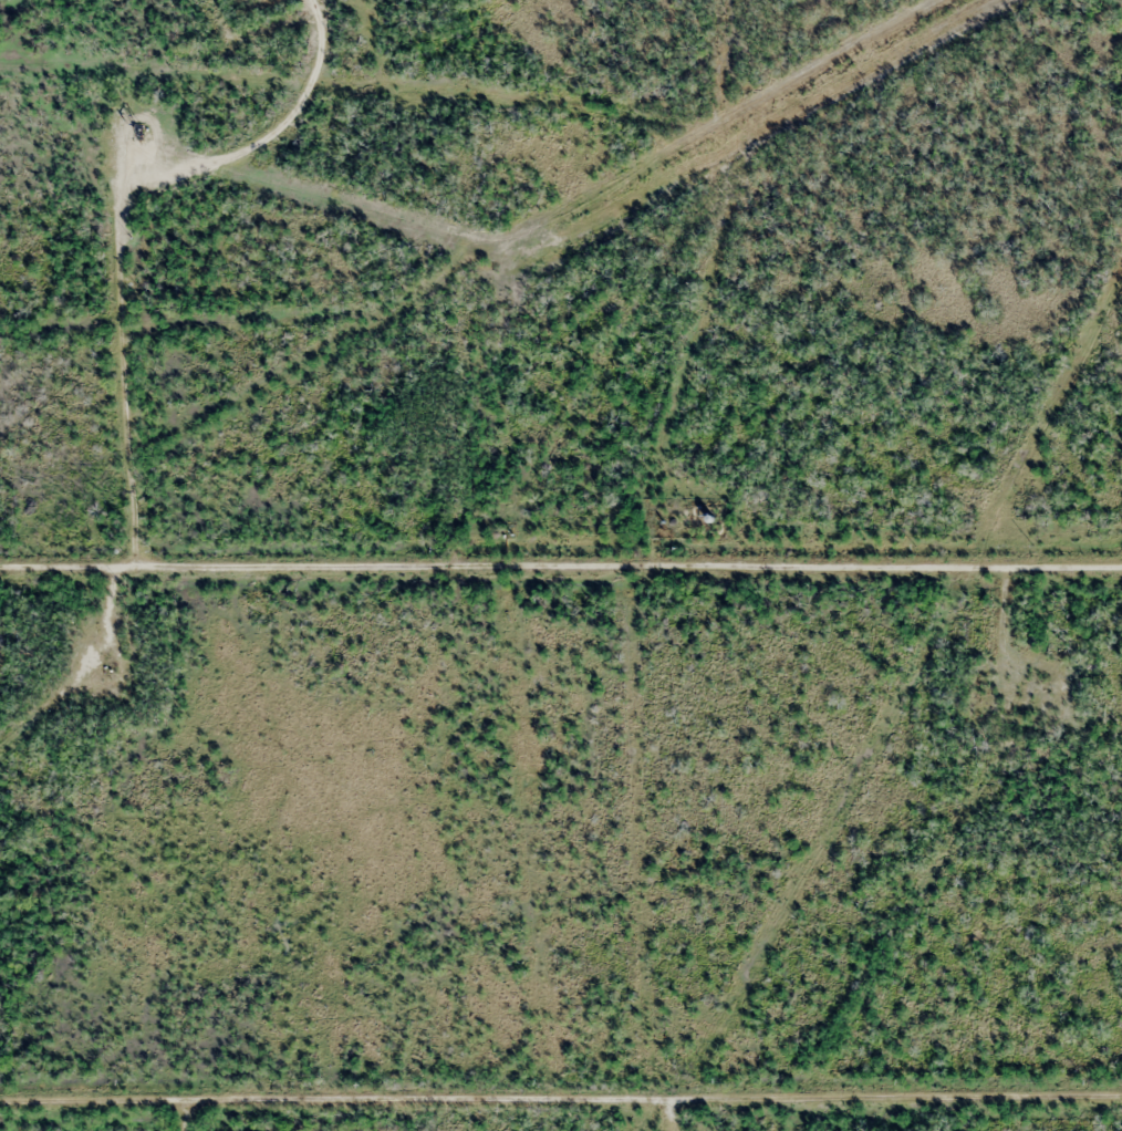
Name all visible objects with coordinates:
road: (560, 563)
road: (561, 1111)

